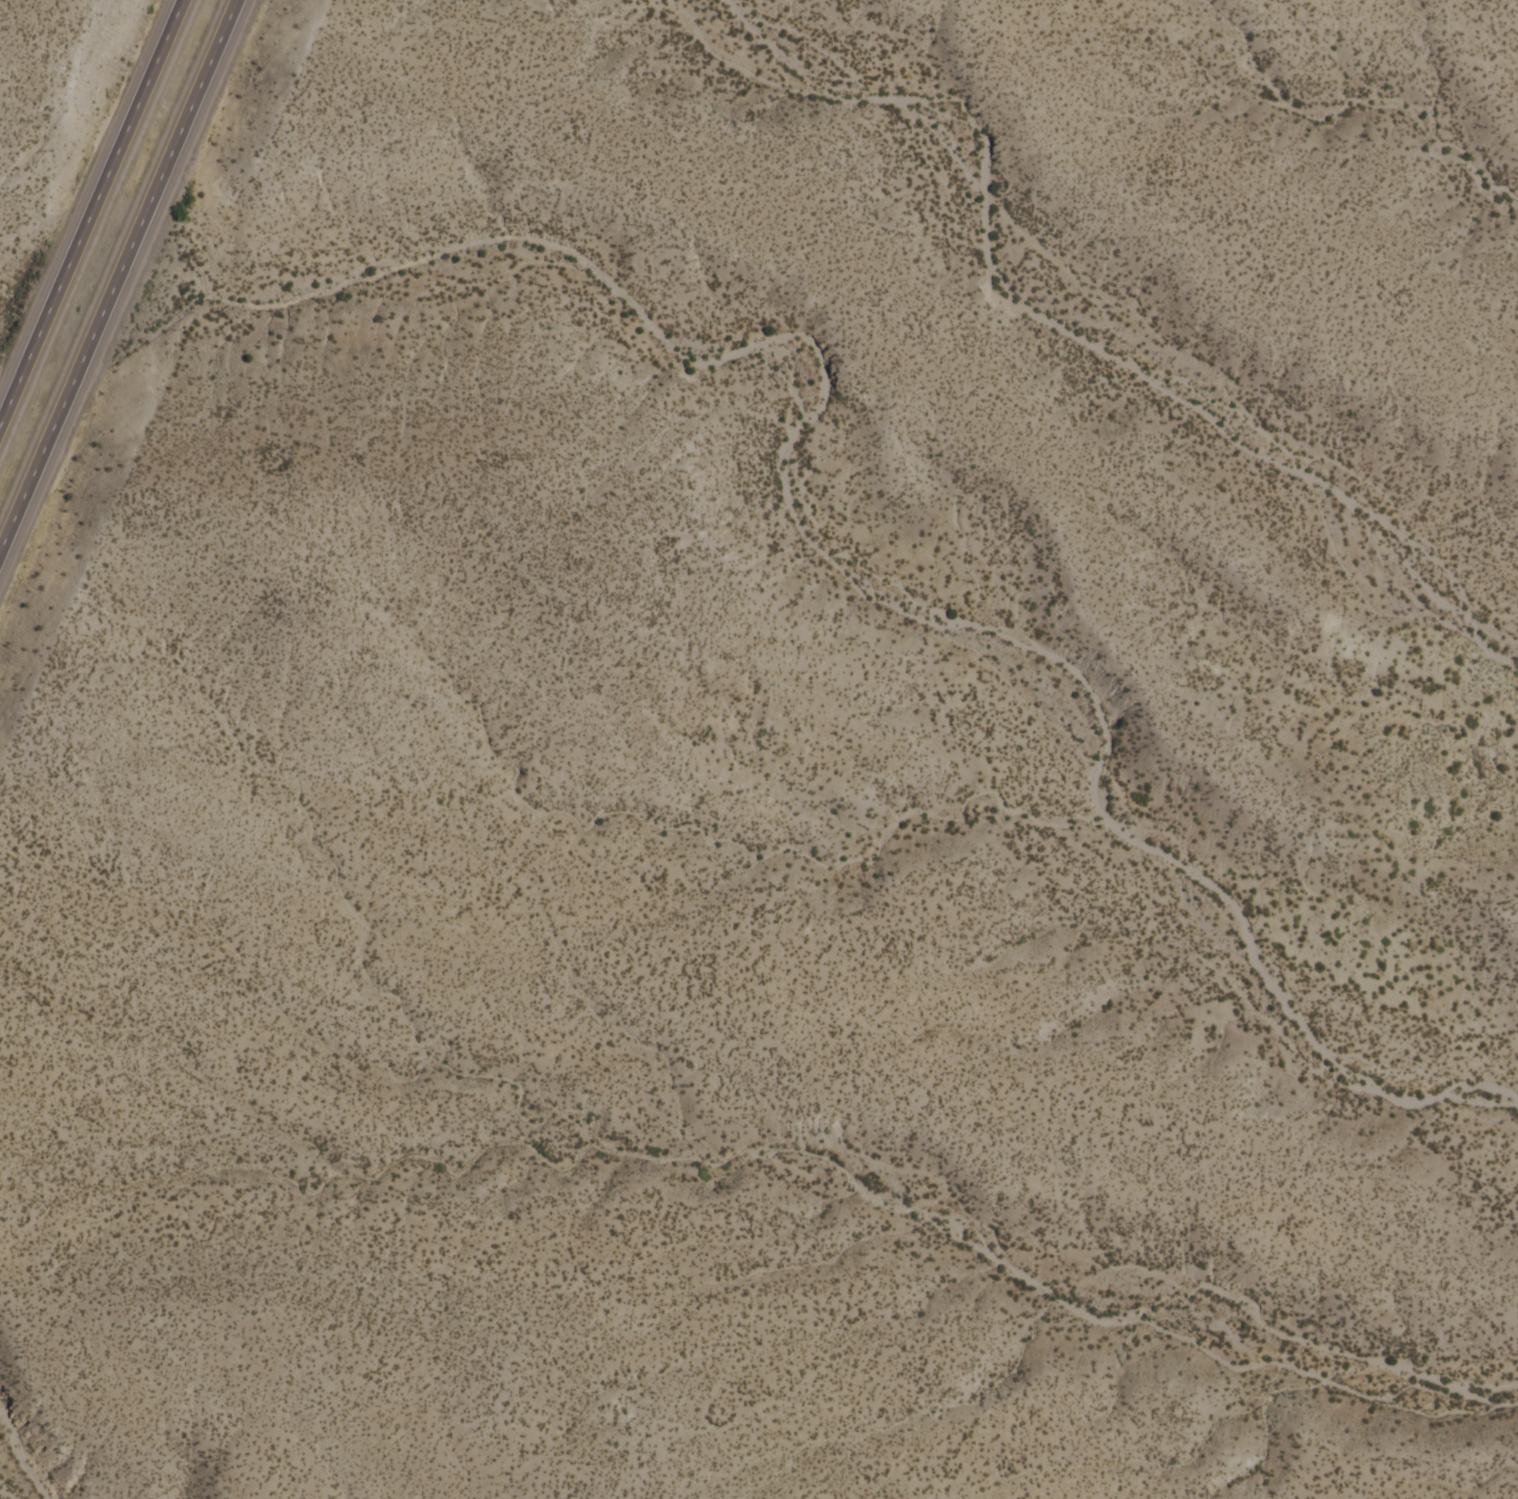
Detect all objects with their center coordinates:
road: (91, 212)
road: (118, 275)

